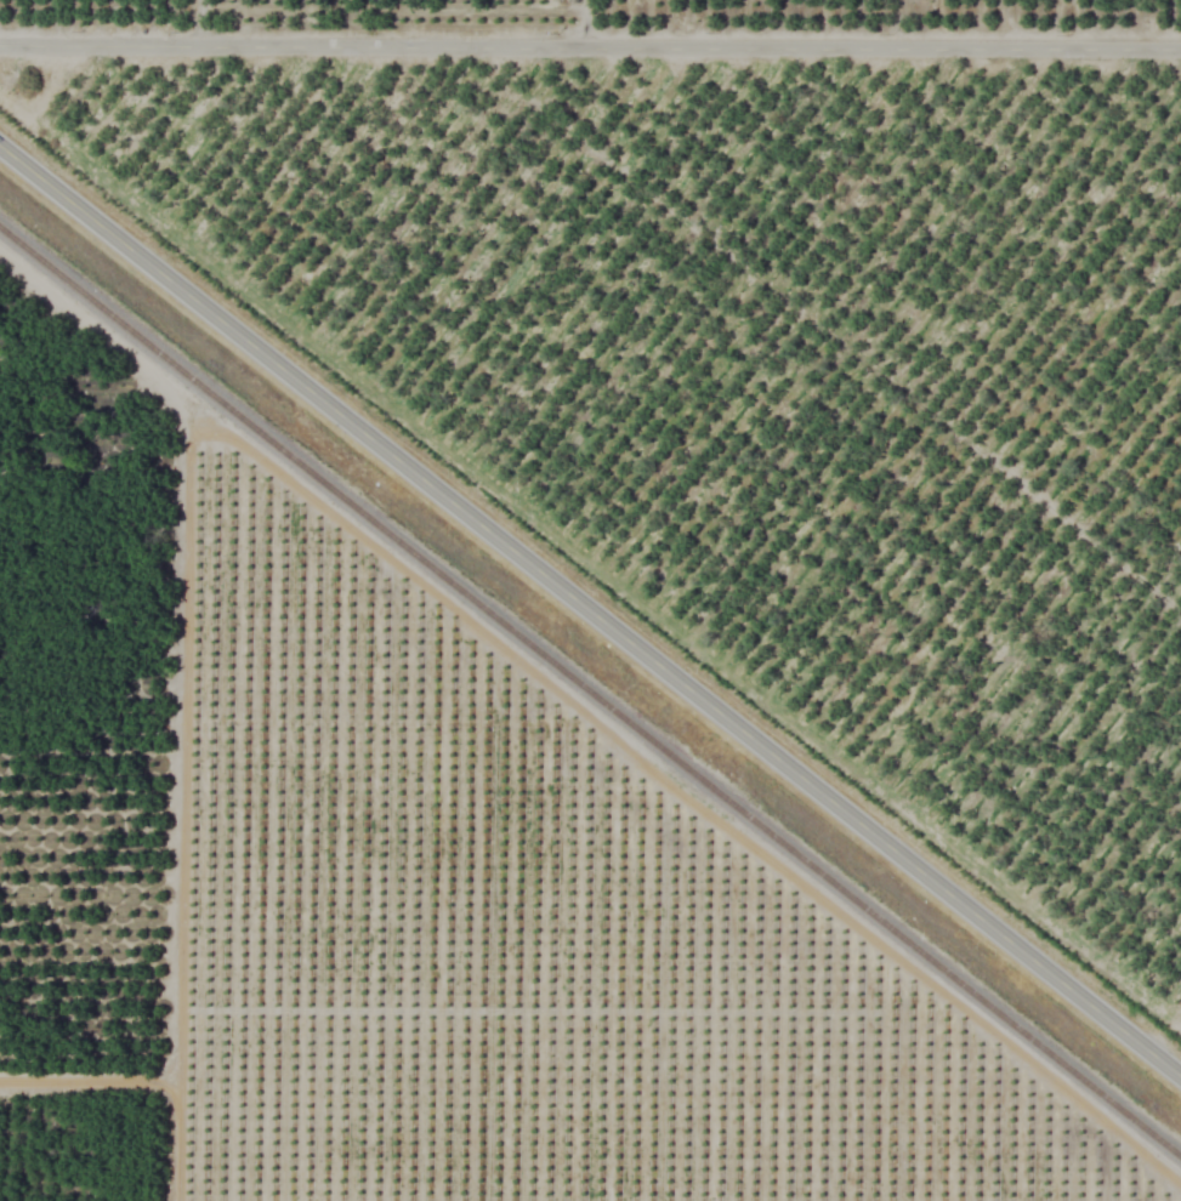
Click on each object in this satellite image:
road: (573, 22)
road: (204, 23)
road: (590, 44)
crop: (590, 600)
road: (590, 613)
railway: (590, 694)

